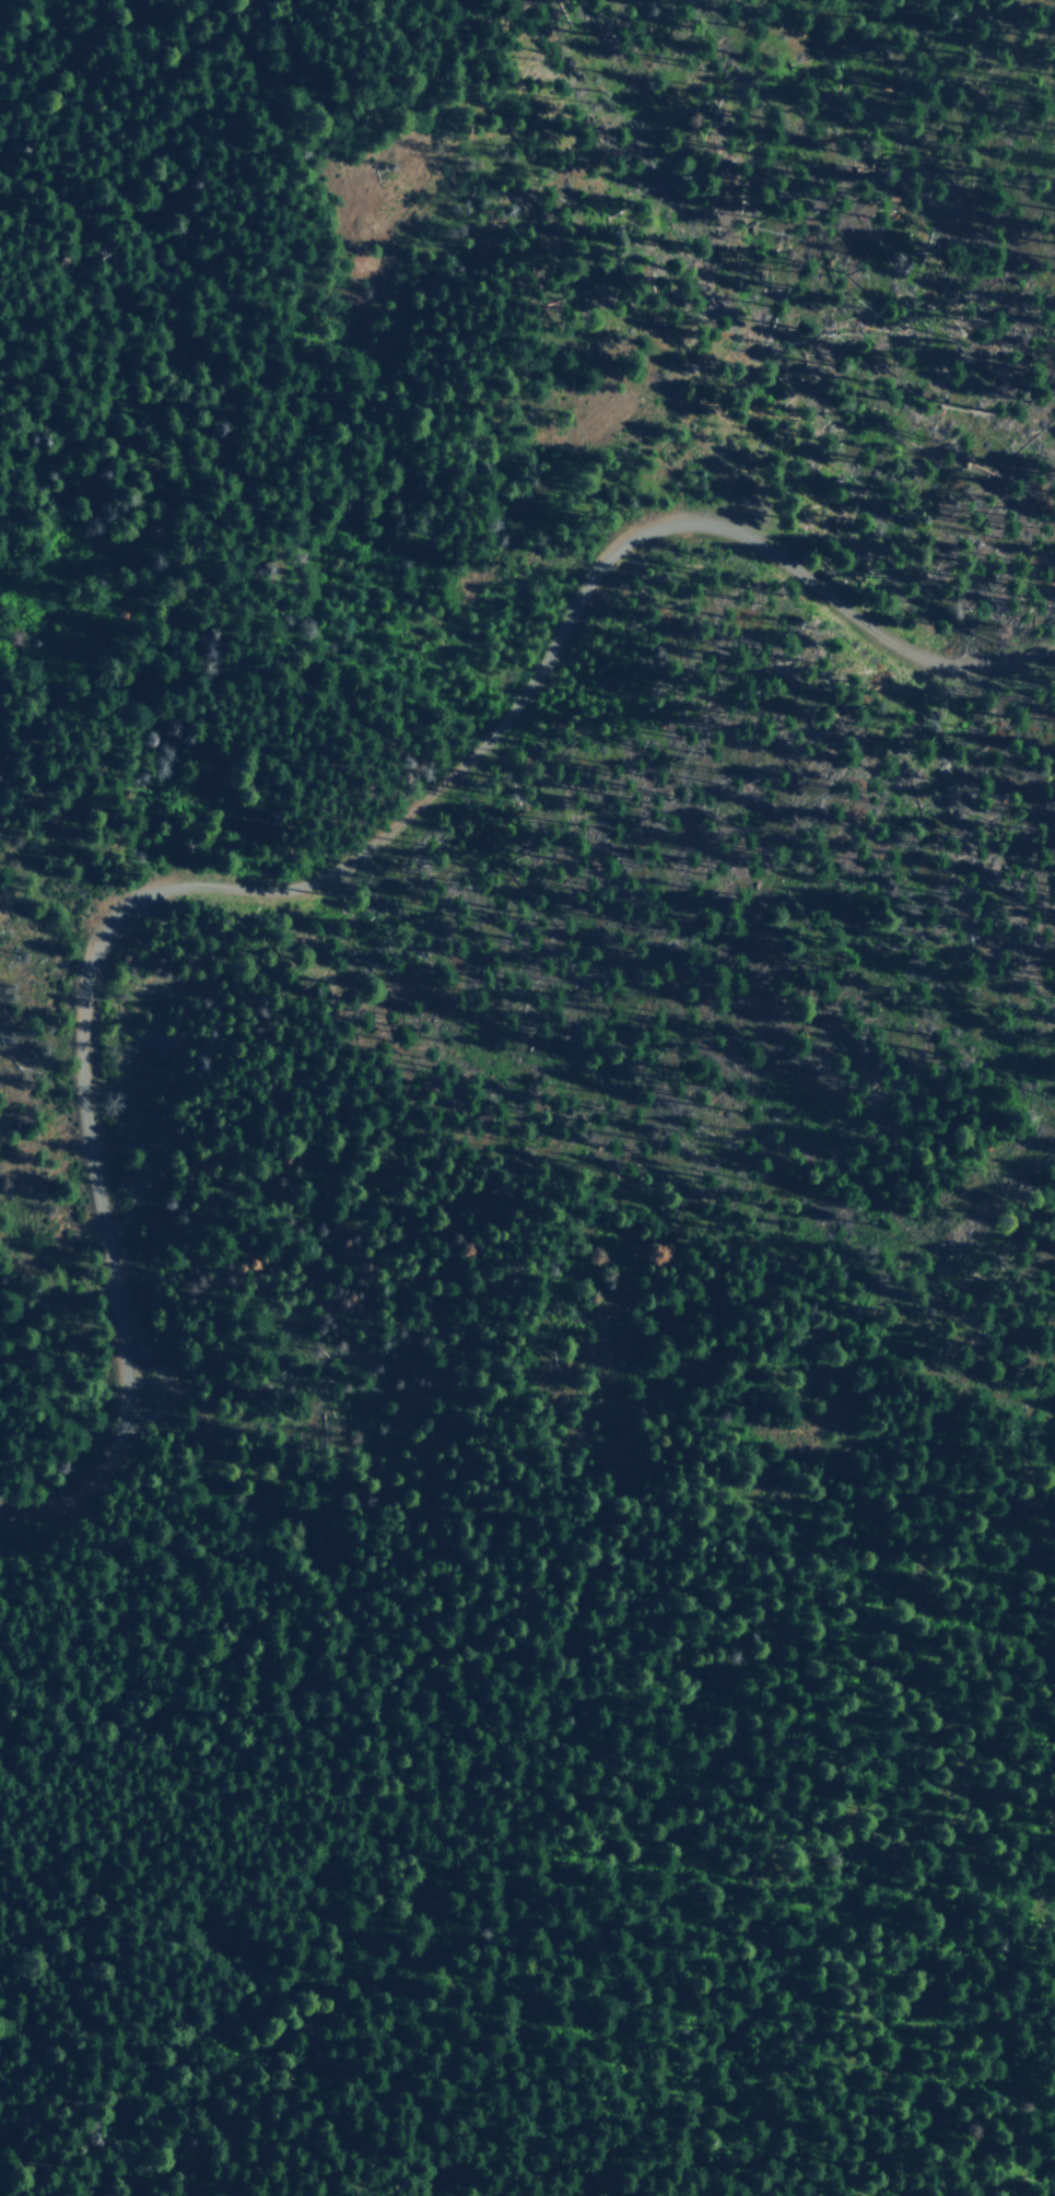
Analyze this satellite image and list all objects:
road: (338, 874)
road: (902, 1840)

